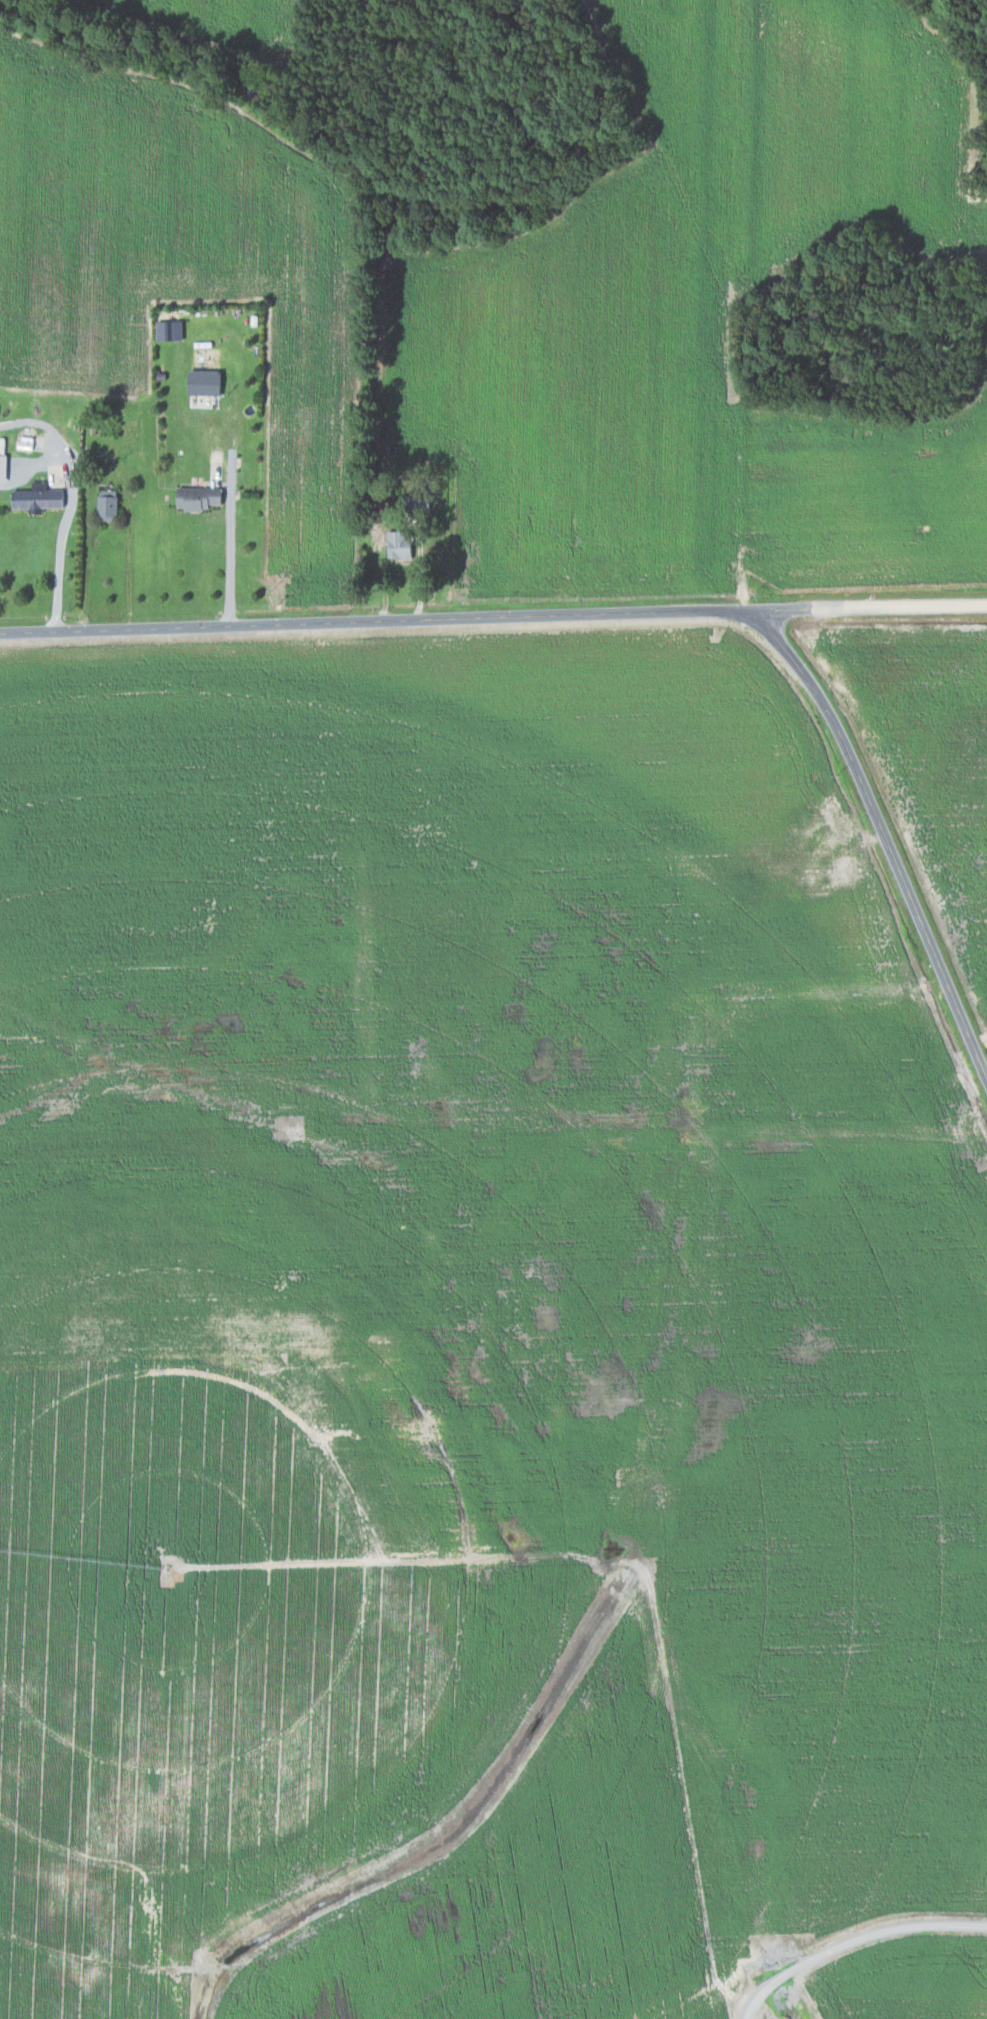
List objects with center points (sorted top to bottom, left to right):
building: (166, 330)
building: (201, 381)
building: (2, 459)
building: (39, 491)
building: (195, 497)
building: (105, 504)
building: (397, 544)
road: (493, 615)
road: (880, 830)
road: (853, 1940)

